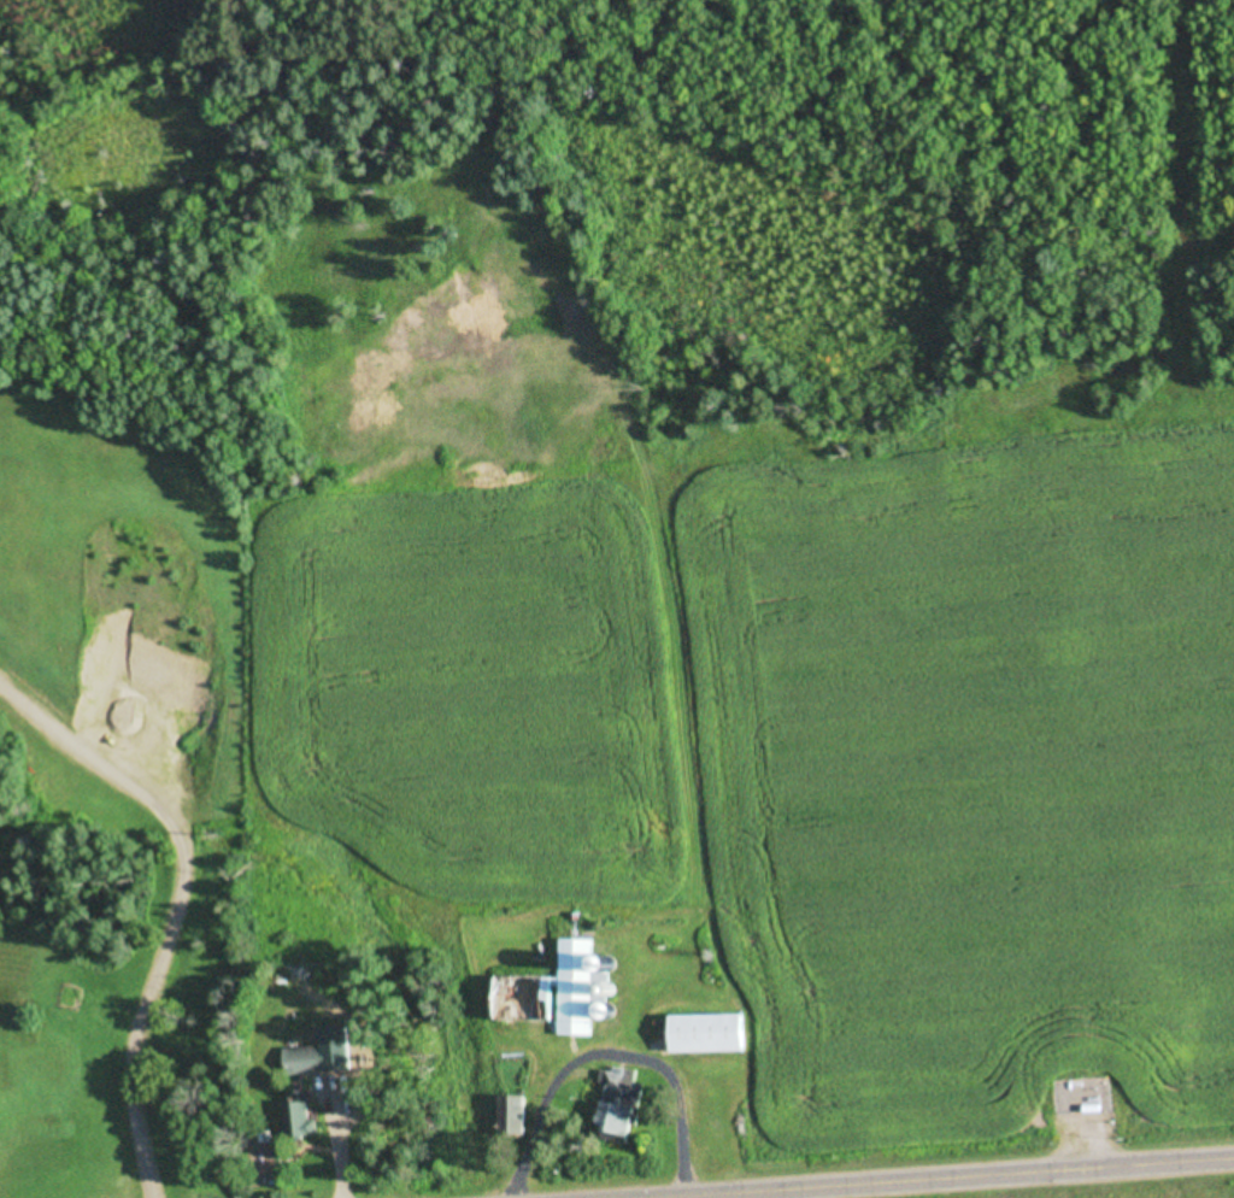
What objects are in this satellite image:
crop: (794, 756)
building: (548, 994)
building: (700, 1034)
building: (298, 1062)
building: (505, 1117)
building: (293, 1118)
building: (607, 1123)
road: (966, 1179)

